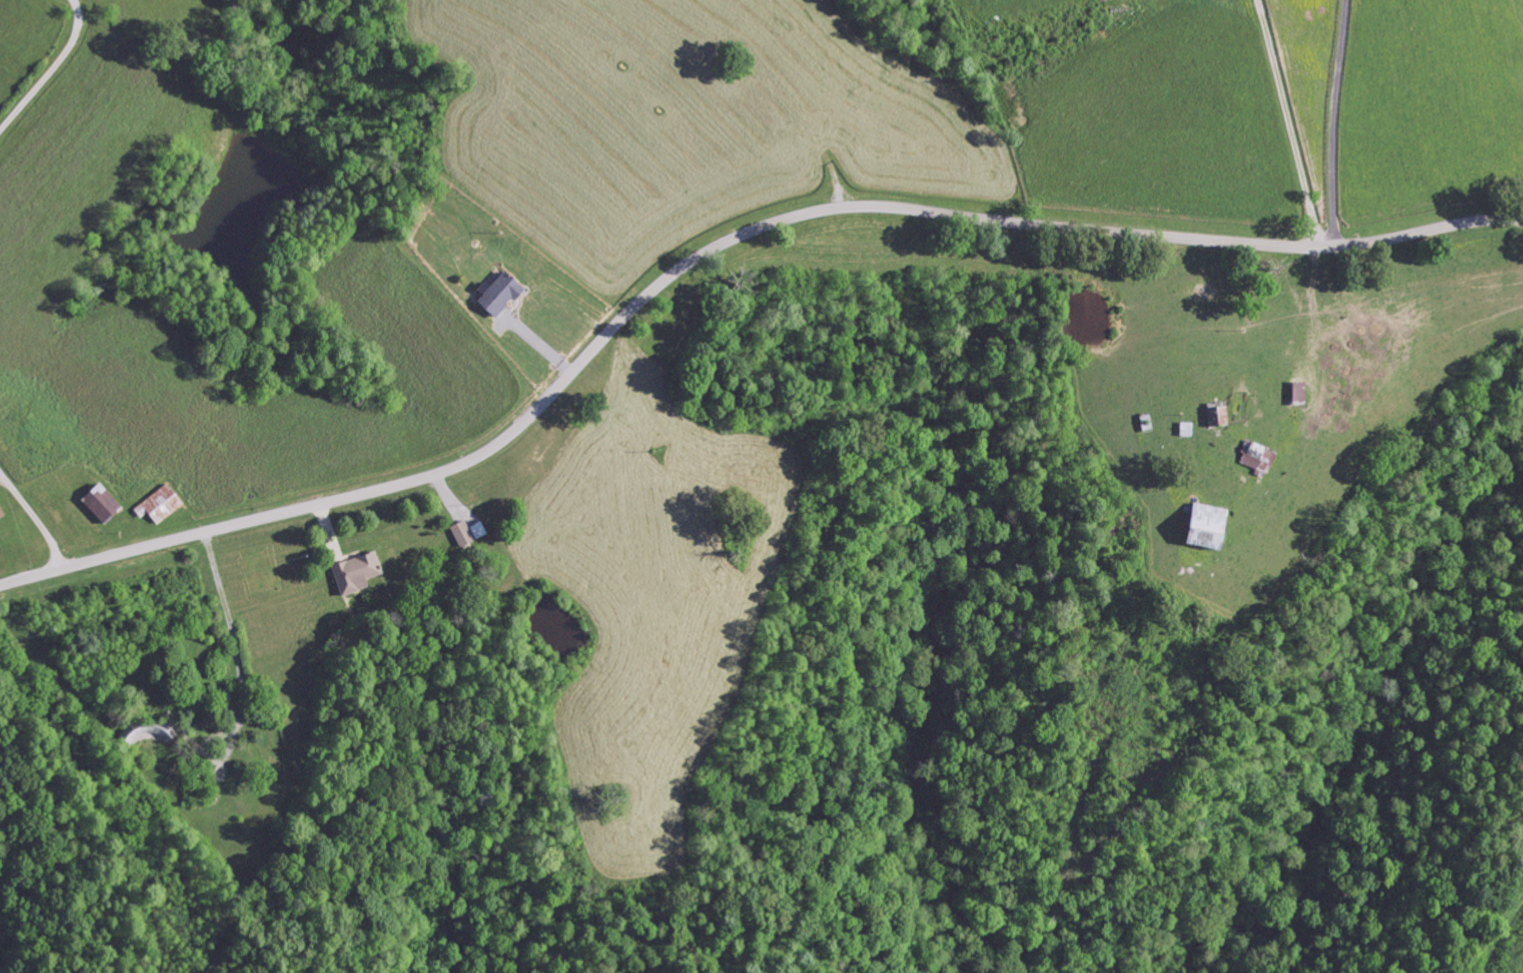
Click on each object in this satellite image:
road: (717, 247)
building: (495, 296)
road: (1304, 353)
building: (1255, 457)
building: (96, 503)
building: (159, 505)
building: (1, 513)
building: (1199, 526)
building: (461, 534)
building: (352, 572)

